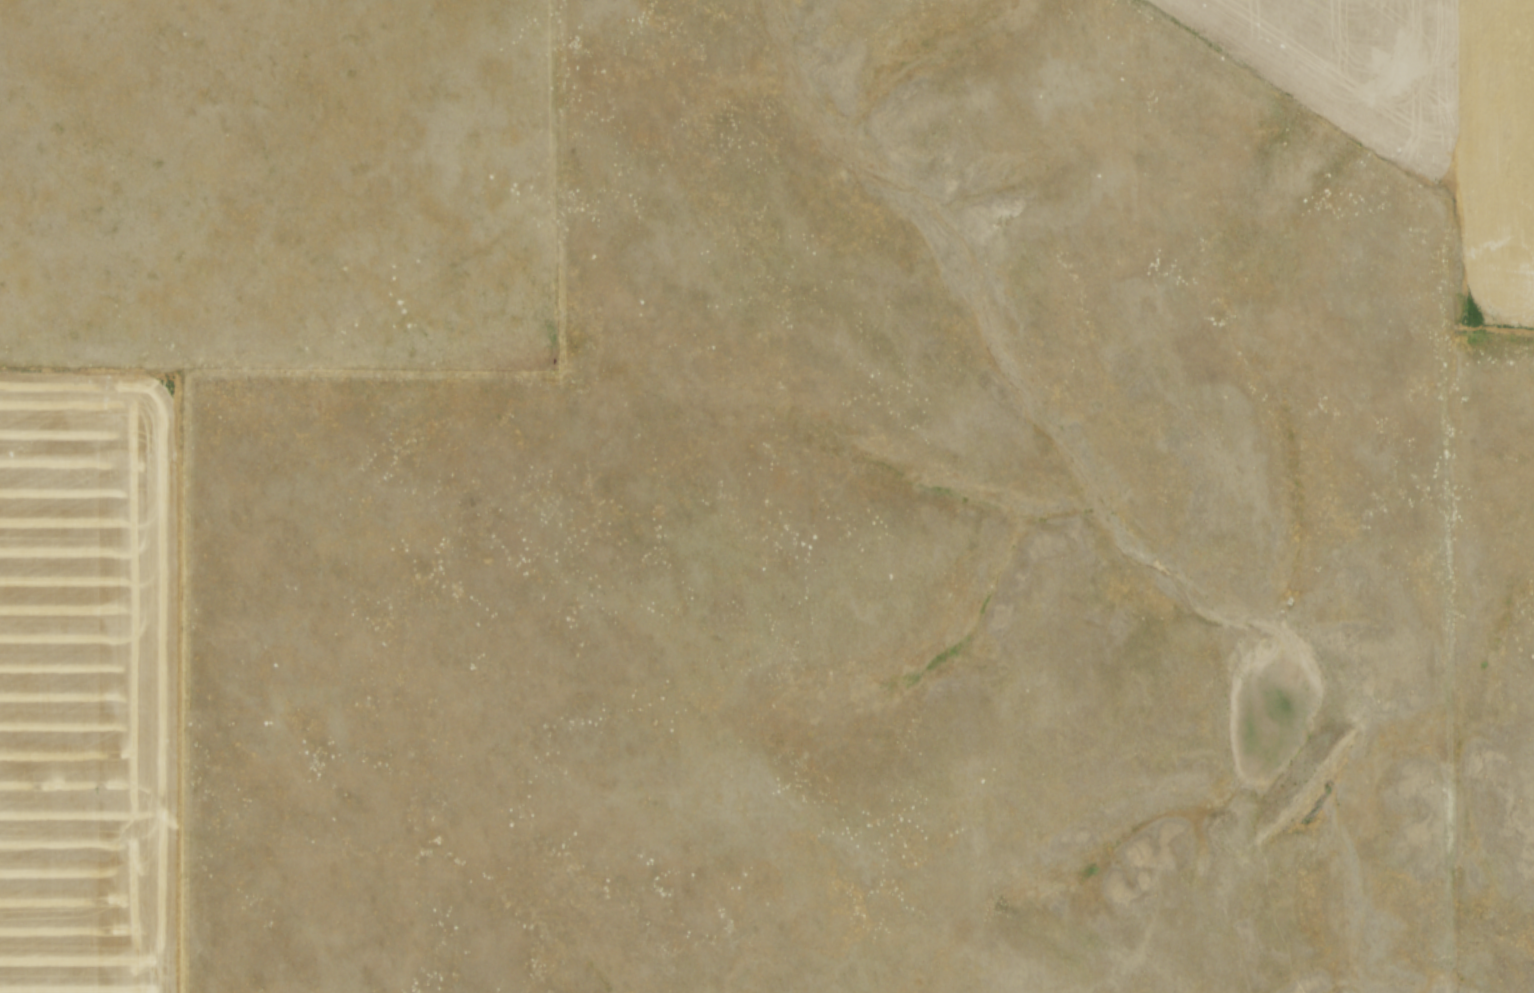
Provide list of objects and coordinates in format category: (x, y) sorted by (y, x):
crop: (1413, 108)
crop: (85, 687)

